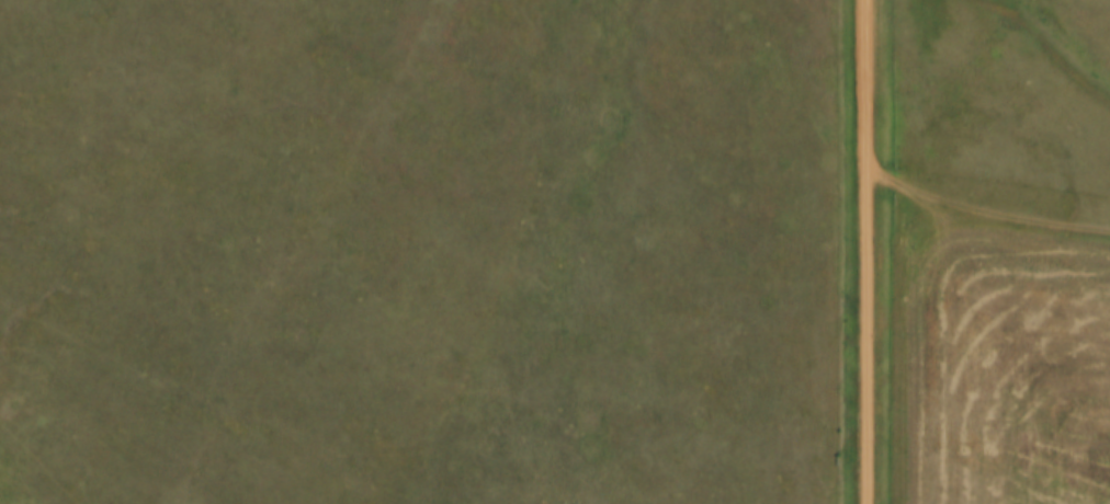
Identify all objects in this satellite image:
road: (868, 252)

